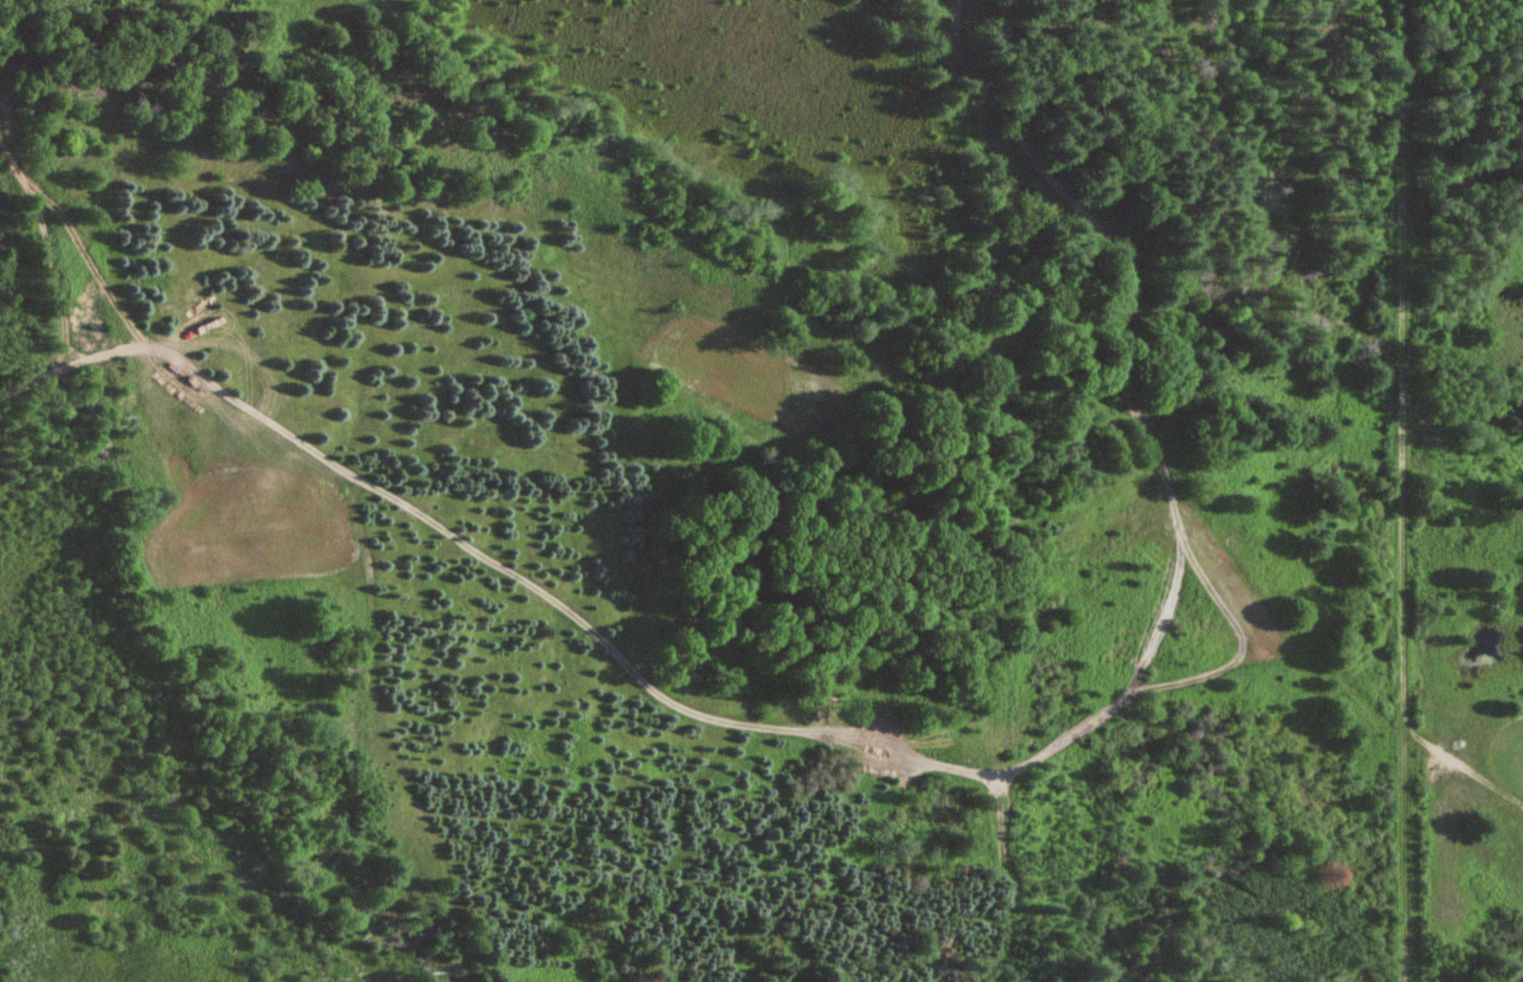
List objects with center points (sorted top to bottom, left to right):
road: (13, 31)
road: (52, 242)
road: (1404, 353)
road: (674, 700)
road: (1406, 767)

